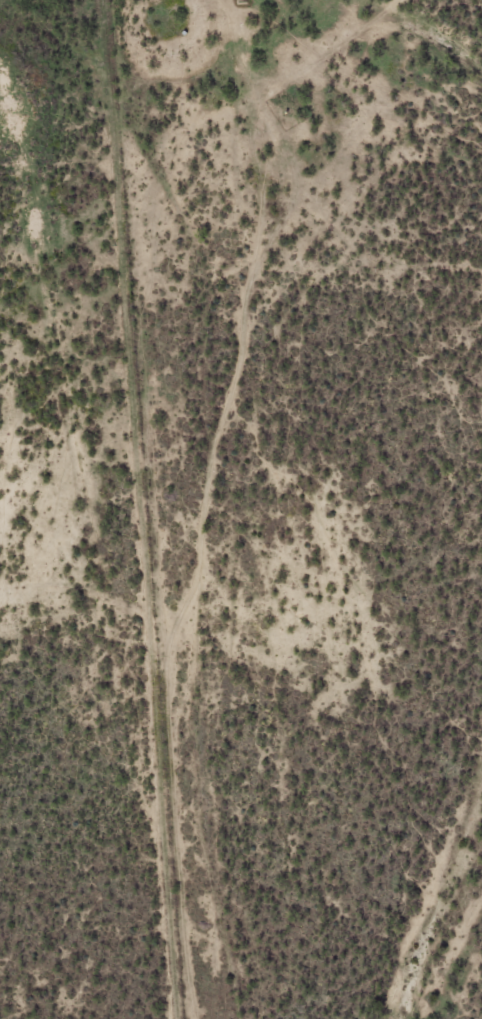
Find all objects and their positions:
road: (210, 502)
road: (104, 619)

